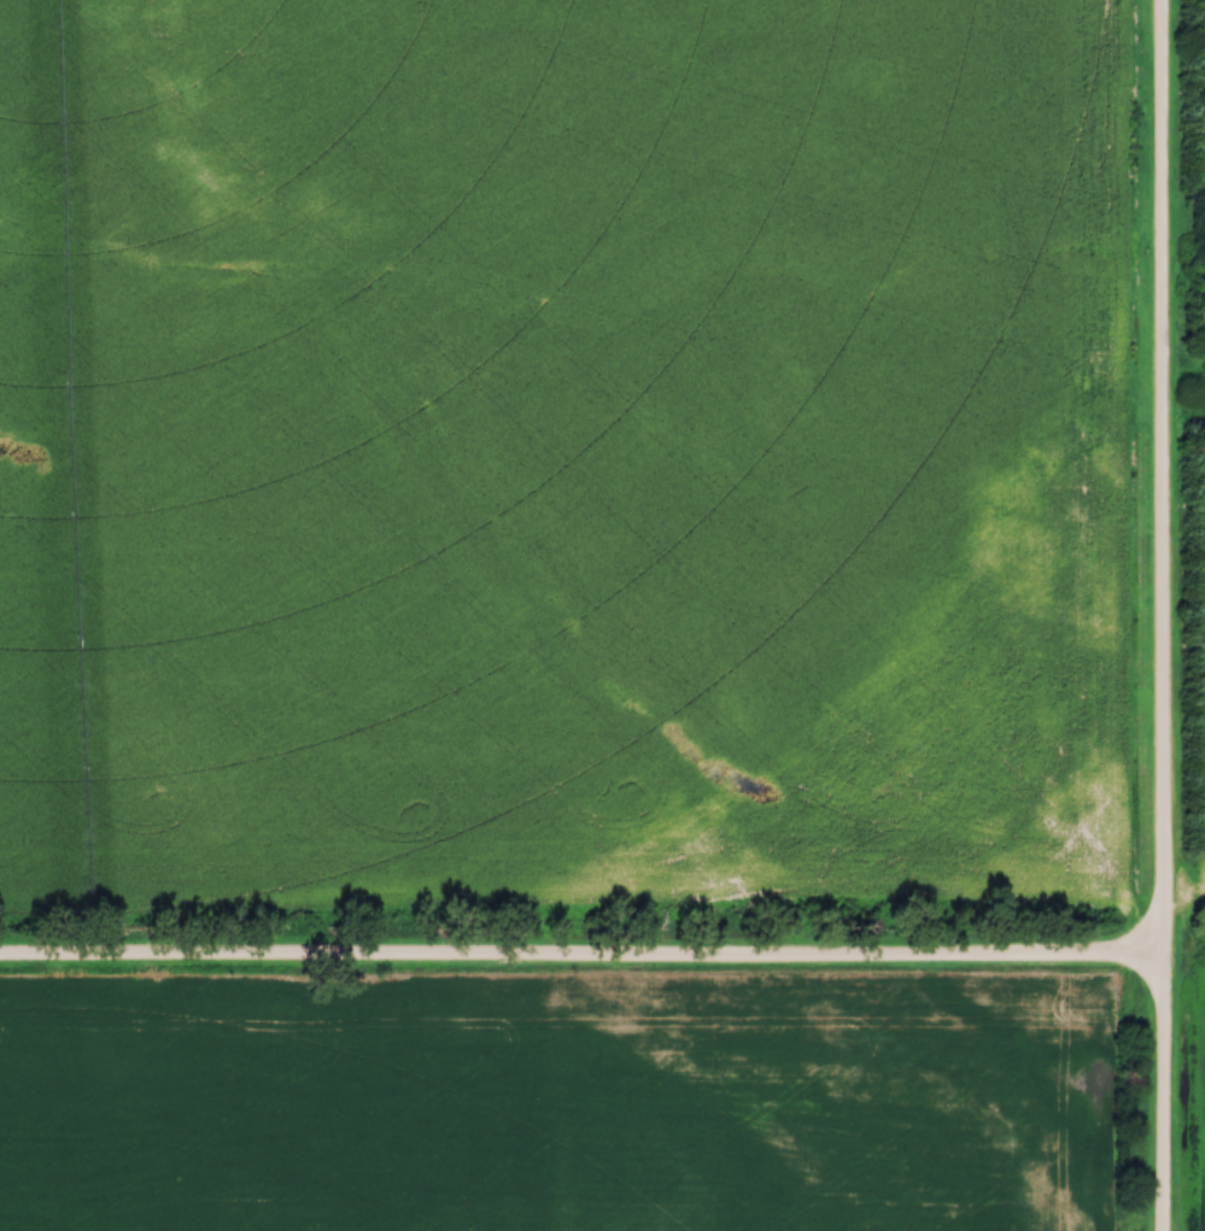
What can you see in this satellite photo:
road: (1164, 615)
road: (583, 959)

